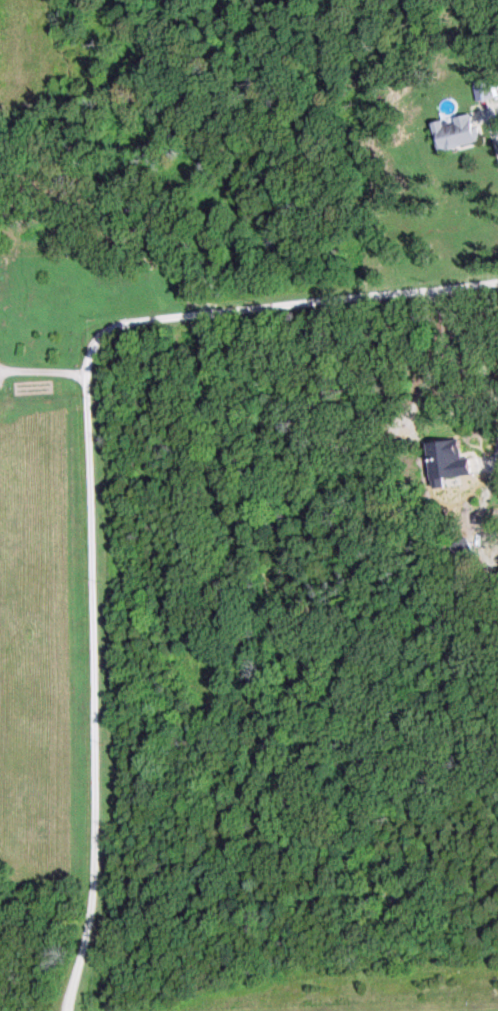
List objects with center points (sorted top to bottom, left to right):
building: (478, 92)
building: (449, 133)
road: (44, 365)
building: (442, 460)
road: (89, 472)

